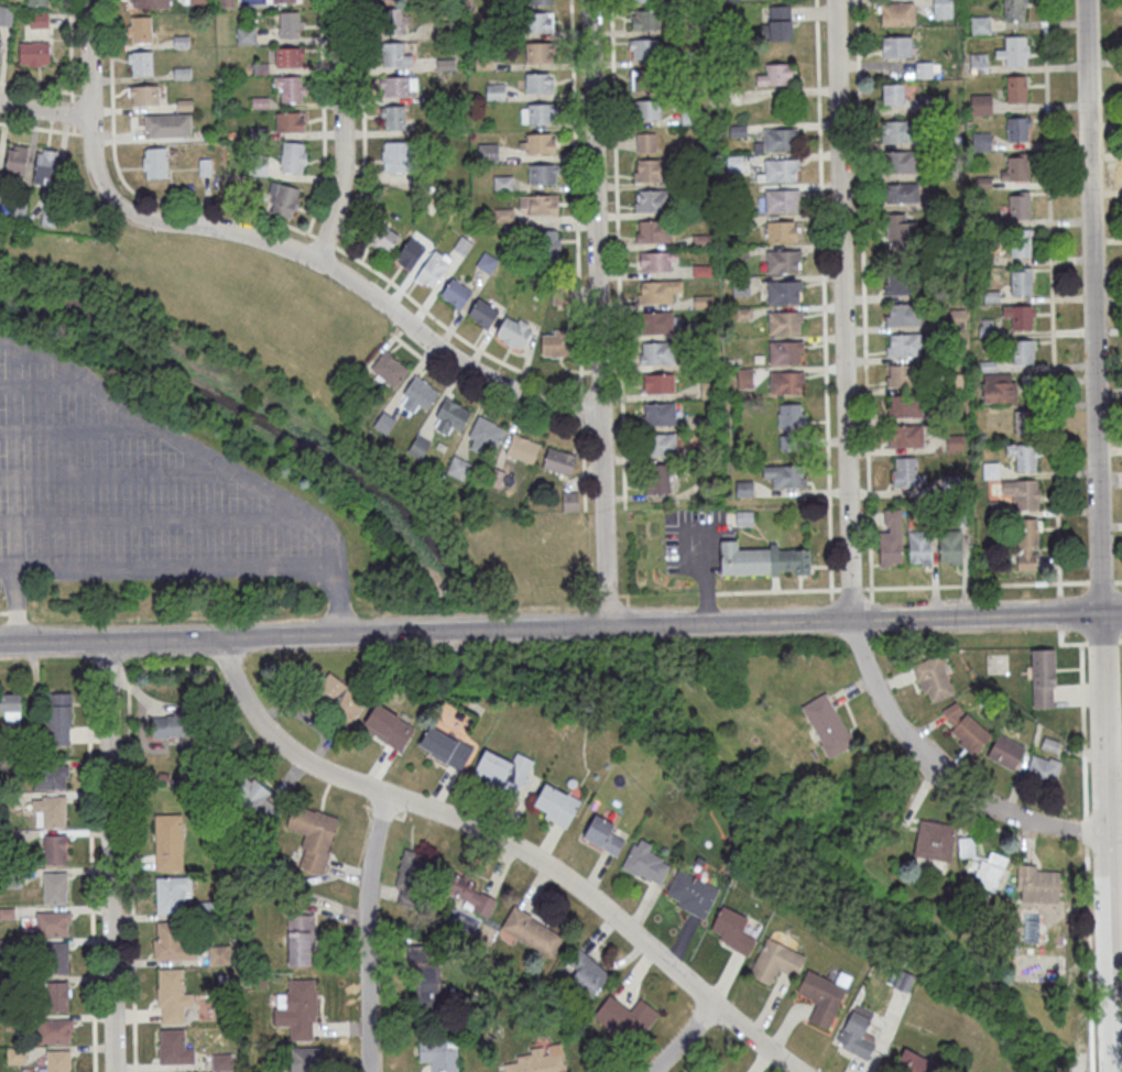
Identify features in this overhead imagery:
building: (729, 0)
building: (197, 1)
building: (283, 1)
building: (641, 1)
building: (40, 2)
building: (541, 2)
building: (149, 3)
building: (226, 3)
building: (943, 10)
building: (1014, 10)
building: (6, 15)
building: (897, 17)
building: (645, 19)
building: (39, 20)
building: (393, 21)
building: (538, 22)
building: (290, 24)
building: (777, 24)
building: (980, 28)
building: (141, 29)
building: (246, 35)
building: (0, 44)
building: (643, 48)
building: (896, 50)
building: (538, 52)
building: (1014, 53)
building: (34, 54)
building: (288, 56)
building: (394, 56)
building: (140, 63)
building: (979, 65)
road: (69, 66)
building: (924, 72)
building: (776, 75)
building: (644, 79)
building: (538, 81)
road: (35, 87)
building: (396, 87)
building: (290, 88)
building: (494, 91)
building: (1015, 91)
building: (143, 95)
building: (893, 96)
building: (981, 107)
building: (934, 108)
road: (44, 109)
building: (646, 109)
building: (537, 112)
building: (393, 119)
building: (290, 121)
building: (167, 124)
road: (363, 125)
road: (44, 129)
road: (90, 130)
building: (1017, 131)
road: (342, 132)
building: (901, 133)
building: (945, 139)
building: (645, 141)
building: (777, 141)
building: (537, 143)
building: (981, 143)
building: (488, 152)
building: (293, 156)
building: (394, 157)
building: (17, 158)
building: (44, 164)
building: (154, 164)
building: (900, 164)
building: (650, 169)
building: (778, 169)
street lamp: (853, 169)
building: (948, 171)
building: (1016, 172)
building: (543, 174)
building: (503, 183)
building: (983, 184)
building: (902, 195)
building: (283, 199)
building: (782, 199)
building: (650, 200)
building: (941, 203)
building: (538, 205)
building: (1020, 208)
building: (984, 223)
building: (783, 230)
building: (654, 232)
building: (901, 234)
building: (383, 238)
building: (548, 243)
road: (821, 244)
road: (862, 244)
building: (1020, 245)
building: (410, 254)
road: (617, 254)
building: (783, 261)
building: (656, 262)
building: (985, 262)
building: (433, 270)
street lamp: (830, 283)
building: (1021, 284)
building: (903, 286)
building: (783, 291)
building: (943, 292)
building: (456, 293)
building: (657, 293)
road: (1050, 297)
building: (992, 299)
road: (385, 306)
building: (482, 313)
road: (597, 315)
building: (903, 317)
building: (1020, 318)
building: (784, 321)
building: (958, 321)
road: (438, 322)
building: (654, 322)
building: (985, 330)
building: (513, 331)
building: (554, 344)
building: (904, 348)
building: (783, 351)
building: (655, 354)
building: (1023, 355)
building: (389, 368)
building: (988, 369)
building: (904, 378)
building: (786, 382)
building: (657, 384)
building: (954, 384)
building: (999, 391)
building: (421, 392)
road: (487, 398)
building: (905, 408)
road: (846, 409)
building: (450, 415)
building: (658, 415)
building: (944, 417)
building: (384, 423)
building: (791, 425)
building: (1025, 426)
building: (484, 434)
building: (906, 439)
road: (581, 440)
building: (955, 445)
building: (418, 446)
building: (660, 446)
building: (522, 447)
building: (1024, 459)
building: (559, 461)
building: (457, 466)
building: (991, 472)
building: (785, 475)
building: (906, 475)
building: (657, 480)
building: (950, 485)
parking lot: (133, 491)
road: (828, 492)
road: (847, 492)
road: (869, 493)
building: (1023, 495)
building: (570, 501)
building: (999, 511)
building: (929, 513)
building: (744, 517)
building: (960, 517)
road: (325, 528)
road: (1098, 535)
parking lot: (694, 542)
building: (891, 542)
building: (1027, 545)
road: (829, 547)
road: (870, 548)
building: (950, 549)
building: (919, 550)
road: (555, 558)
road: (685, 560)
building: (760, 560)
road: (824, 566)
road: (846, 566)
building: (796, 573)
road: (1101, 581)
road: (1118, 581)
road: (799, 582)
road: (774, 584)
road: (974, 584)
road: (850, 588)
road: (777, 590)
road: (710, 593)
street lamp: (1076, 594)
road: (337, 600)
road: (627, 600)
road: (15, 608)
road: (871, 610)
road: (831, 611)
road: (1058, 613)
road: (3, 614)
road: (12, 614)
road: (560, 631)
road: (1121, 641)
road: (1102, 642)
road: (1066, 643)
road: (108, 671)
road: (122, 671)
building: (1043, 680)
building: (933, 681)
building: (340, 701)
building: (10, 707)
building: (58, 719)
building: (167, 725)
building: (827, 729)
building: (388, 730)
building: (966, 732)
building: (1049, 747)
building: (446, 752)
building: (1005, 754)
building: (1043, 773)
building: (503, 774)
building: (50, 777)
road: (1113, 790)
building: (252, 797)
building: (557, 809)
building: (48, 810)
road: (1025, 820)
road: (130, 830)
building: (313, 835)
road: (1113, 835)
building: (603, 839)
building: (167, 841)
road: (508, 843)
building: (934, 843)
building: (54, 849)
building: (966, 850)
road: (109, 857)
building: (996, 863)
road: (90, 866)
building: (645, 866)
building: (410, 869)
building: (987, 878)
building: (54, 887)
building: (1037, 887)
building: (172, 893)
building: (469, 893)
building: (691, 897)
building: (52, 923)
building: (532, 931)
road: (366, 932)
building: (732, 933)
building: (172, 940)
building: (299, 940)
building: (218, 954)
building: (54, 958)
building: (775, 964)
building: (587, 972)
building: (903, 983)
building: (427, 986)
building: (172, 995)
building: (56, 996)
building: (824, 998)
building: (297, 1008)
building: (625, 1018)
building: (54, 1030)
road: (683, 1039)
building: (856, 1039)
building: (174, 1047)
building: (439, 1054)
building: (57, 1060)
building: (302, 1060)
building: (537, 1060)
building: (221, 1062)
building: (915, 1064)

